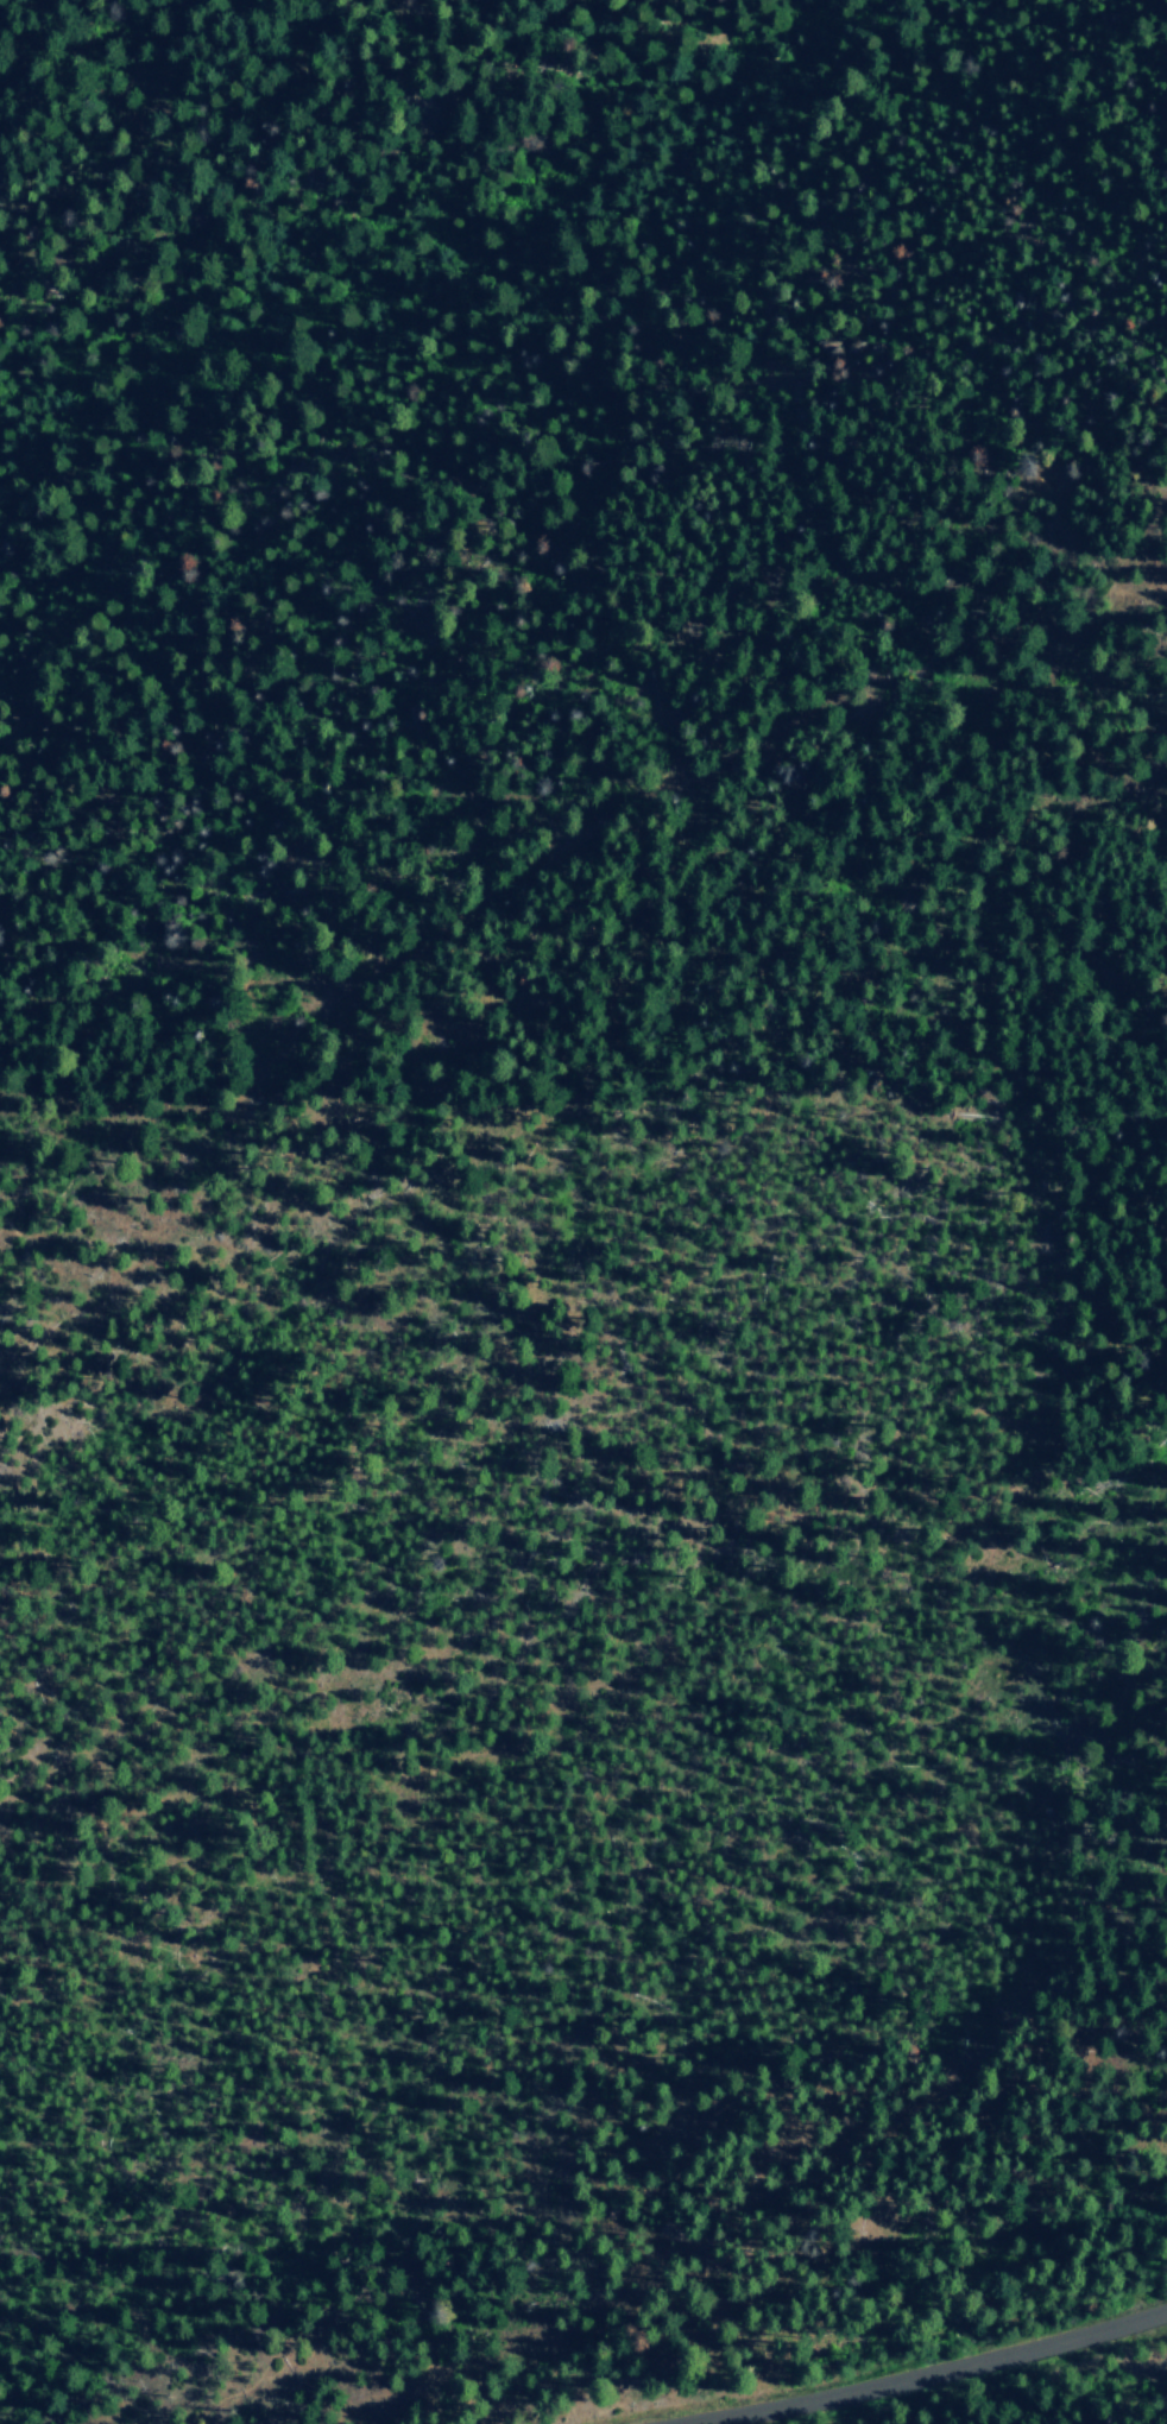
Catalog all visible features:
road: (921, 2373)

